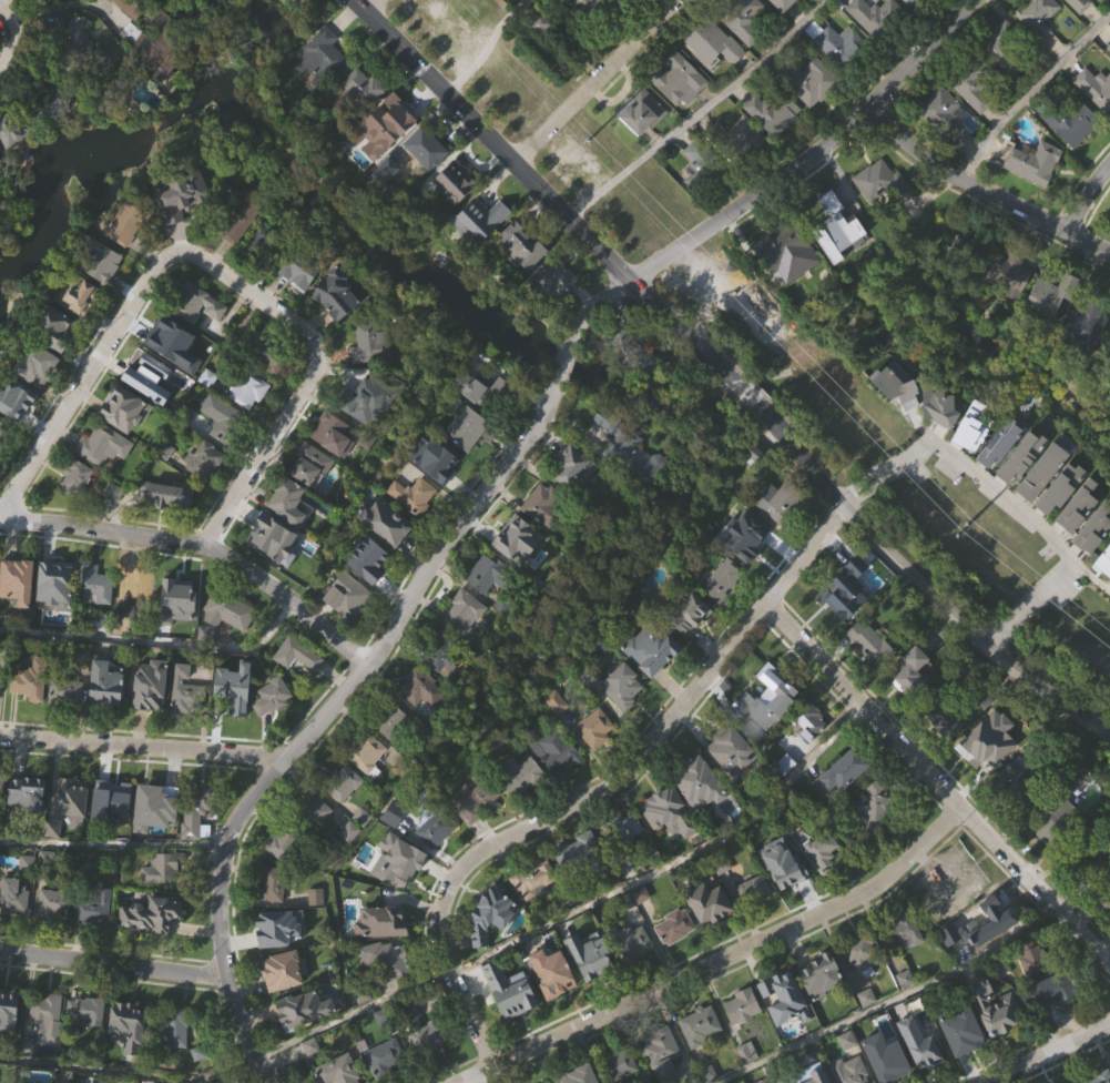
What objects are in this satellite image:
building: (193, 0)
building: (957, 0)
building: (635, 1)
building: (1102, 1)
building: (910, 2)
building: (781, 4)
building: (817, 4)
building: (1081, 4)
building: (130, 7)
road: (364, 7)
building: (499, 10)
building: (595, 10)
building: (45, 14)
building: (1037, 17)
building: (879, 18)
building: (907, 18)
building: (742, 19)
road: (3, 26)
building: (584, 29)
building: (560, 33)
building: (72, 43)
building: (712, 44)
building: (841, 44)
building: (163, 47)
building: (1004, 47)
building: (1039, 47)
building: (1109, 47)
road: (486, 49)
building: (745, 49)
building: (877, 50)
building: (322, 57)
building: (542, 59)
building: (80, 71)
building: (715, 79)
building: (679, 80)
building: (841, 80)
building: (808, 81)
road: (594, 82)
building: (972, 82)
building: (153, 85)
building: (1094, 88)
building: (360, 89)
road: (1029, 92)
building: (323, 93)
building: (641, 111)
road: (697, 113)
building: (772, 113)
building: (680, 114)
building: (941, 114)
building: (812, 115)
building: (395, 119)
building: (1096, 121)
building: (975, 122)
building: (361, 124)
building: (1072, 124)
building: (50, 132)
building: (13, 133)
power tower: (588, 140)
building: (735, 141)
building: (642, 145)
building: (426, 148)
building: (944, 148)
building: (776, 149)
building: (1075, 156)
building: (1033, 164)
building: (700, 166)
building: (11, 168)
building: (744, 170)
building: (383, 173)
road: (782, 178)
building: (430, 180)
building: (879, 182)
building: (454, 185)
road: (537, 190)
building: (179, 192)
road: (981, 193)
building: (1, 194)
building: (1035, 196)
road: (1084, 200)
building: (702, 201)
building: (236, 213)
building: (876, 213)
building: (456, 216)
building: (480, 221)
building: (122, 223)
building: (183, 229)
building: (265, 243)
building: (777, 246)
building: (526, 247)
building: (240, 249)
building: (971, 252)
building: (482, 254)
building: (125, 260)
building: (98, 261)
building: (302, 264)
road: (215, 267)
building: (838, 270)
building: (1011, 271)
building: (526, 279)
building: (554, 281)
building: (968, 284)
building: (791, 289)
building: (1055, 292)
building: (75, 295)
building: (336, 295)
building: (105, 296)
building: (194, 303)
building: (301, 305)
building: (1011, 306)
building: (559, 313)
building: (1091, 322)
building: (50, 326)
building: (338, 328)
building: (78, 330)
building: (1052, 330)
building: (165, 333)
building: (200, 338)
building: (368, 344)
building: (1109, 346)
building: (633, 351)
road: (564, 361)
building: (57, 362)
building: (34, 366)
building: (167, 366)
building: (142, 368)
building: (234, 374)
building: (373, 377)
building: (1109, 382)
building: (638, 386)
building: (247, 388)
building: (266, 388)
building: (480, 388)
road: (750, 394)
building: (366, 397)
building: (38, 399)
building: (120, 403)
building: (152, 412)
building: (1, 421)
building: (897, 421)
building: (502, 422)
building: (227, 423)
building: (251, 423)
building: (470, 427)
building: (1, 429)
building: (329, 433)
building: (361, 434)
building: (938, 441)
building: (102, 444)
building: (126, 444)
building: (630, 446)
building: (223, 452)
building: (441, 458)
building: (203, 459)
road: (907, 460)
building: (3, 462)
building: (309, 462)
building: (469, 462)
building: (972, 464)
building: (576, 465)
building: (334, 468)
road: (876, 475)
building: (1004, 475)
building: (75, 476)
building: (105, 478)
building: (633, 484)
building: (756, 488)
building: (1022, 490)
building: (436, 493)
building: (206, 494)
building: (413, 495)
building: (164, 496)
building: (285, 496)
building: (313, 498)
building: (574, 503)
building: (781, 503)
building: (541, 504)
building: (1043, 506)
building: (78, 509)
building: (385, 520)
building: (1061, 524)
building: (115, 526)
building: (169, 528)
building: (418, 529)
road: (1046, 533)
building: (289, 535)
building: (523, 535)
building: (780, 536)
power tower: (957, 536)
building: (747, 537)
building: (544, 538)
building: (268, 539)
road: (201, 548)
building: (1088, 550)
building: (388, 555)
building: (369, 559)
building: (749, 571)
building: (276, 573)
building: (489, 573)
building: (55, 574)
building: (521, 574)
building: (17, 579)
building: (722, 579)
building: (93, 584)
building: (135, 588)
road: (926, 589)
building: (177, 593)
building: (370, 593)
building: (347, 595)
building: (839, 596)
building: (1104, 596)
building: (488, 608)
building: (227, 609)
building: (685, 609)
building: (462, 610)
building: (723, 614)
building: (20, 615)
building: (58, 618)
building: (110, 623)
building: (138, 623)
building: (847, 625)
building: (180, 627)
building: (348, 629)
building: (870, 644)
building: (230, 646)
building: (465, 646)
building: (652, 647)
building: (690, 647)
building: (438, 651)
building: (296, 654)
building: (121, 658)
building: (589, 675)
building: (870, 676)
building: (30, 679)
building: (914, 680)
building: (104, 681)
building: (149, 684)
building: (652, 684)
building: (420, 687)
building: (299, 688)
building: (228, 689)
building: (444, 689)
building: (624, 689)
building: (184, 690)
building: (65, 691)
building: (272, 696)
building: (761, 699)
building: (913, 705)
building: (1007, 715)
building: (108, 716)
building: (1, 717)
building: (30, 717)
building: (941, 717)
building: (807, 718)
road: (322, 719)
building: (624, 719)
building: (152, 720)
building: (186, 722)
building: (393, 723)
building: (68, 725)
building: (230, 725)
building: (594, 728)
building: (434, 729)
building: (272, 730)
building: (768, 732)
road: (142, 746)
building: (558, 748)
building: (732, 752)
building: (945, 752)
building: (974, 753)
building: (365, 755)
building: (811, 755)
building: (395, 756)
building: (597, 761)
building: (519, 773)
building: (989, 773)
building: (1, 781)
building: (342, 782)
building: (557, 785)
road: (938, 785)
building: (368, 786)
building: (733, 786)
building: (696, 787)
building: (1017, 787)
building: (24, 793)
road: (602, 794)
building: (70, 796)
building: (156, 798)
building: (109, 799)
building: (475, 799)
building: (846, 803)
building: (870, 806)
building: (521, 808)
building: (195, 811)
building: (1059, 816)
building: (2, 817)
building: (345, 817)
building: (701, 817)
building: (1022, 817)
building: (315, 821)
building: (436, 822)
building: (29, 827)
building: (622, 828)
building: (112, 831)
building: (478, 831)
building: (72, 832)
building: (156, 840)
building: (283, 841)
building: (316, 844)
road: (112, 847)
building: (197, 847)
building: (670, 847)
building: (823, 847)
building: (364, 850)
building: (578, 852)
building: (1057, 852)
building: (54, 861)
road: (673, 861)
building: (782, 861)
building: (436, 862)
building: (625, 862)
building: (352, 864)
building: (405, 864)
building: (1096, 864)
building: (161, 868)
building: (532, 880)
building: (824, 882)
building: (272, 884)
building: (579, 884)
building: (957, 884)
building: (753, 889)
building: (1107, 889)
building: (12, 895)
building: (785, 898)
building: (707, 902)
building: (52, 903)
building: (93, 909)
building: (398, 912)
building: (537, 913)
building: (152, 914)
building: (997, 914)
building: (489, 915)
building: (958, 919)
building: (754, 923)
building: (271, 927)
building: (674, 927)
building: (642, 928)
building: (904, 930)
building: (16, 931)
building: (54, 937)
building: (709, 937)
building: (297, 938)
building: (94, 940)
building: (633, 943)
building: (153, 947)
building: (492, 947)
building: (859, 950)
building: (998, 950)
building: (1032, 958)
building: (387, 960)
building: (594, 960)
building: (675, 960)
road: (723, 961)
road: (113, 965)
building: (905, 965)
building: (283, 970)
building: (554, 972)
building: (823, 975)
building: (635, 976)
building: (1033, 986)
building: (862, 988)
building: (1058, 988)
building: (591, 990)
building: (389, 992)
building: (510, 995)
building: (786, 996)
building: (8, 1002)
road: (892, 1002)
building: (285, 1003)
building: (554, 1005)
building: (742, 1006)
building: (822, 1008)
building: (996, 1008)
building: (44, 1009)
building: (85, 1010)
building: (303, 1011)
road: (350, 1012)
building: (907, 1012)
building: (1055, 1022)
building: (511, 1023)
building: (128, 1025)
building: (363, 1025)
building: (700, 1025)
building: (172, 1029)
building: (426, 1030)
building: (786, 1030)
building: (866, 1031)
building: (964, 1032)
building: (743, 1040)
building: (10, 1042)
building: (306, 1042)
building: (996, 1042)
building: (88, 1043)
building: (920, 1045)
building: (49, 1047)
building: (661, 1053)
road: (1048, 1053)
building: (130, 1057)
building: (383, 1059)
building: (701, 1059)
building: (887, 1063)
building: (963, 1063)
building: (174, 1064)
building: (618, 1064)
building: (917, 1069)
building: (428, 1070)
building: (337, 1071)
road: (128, 1072)
building: (848, 1072)
building: (580, 1075)
building: (29, 1076)
building: (882, 1076)
building: (312, 1077)
building: (1101, 1077)
building: (390, 1079)
building: (747, 1080)
building: (625, 1081)
building: (762, 1081)
building: (802, 1081)
building: (815, 1082)
building: (825, 1082)

